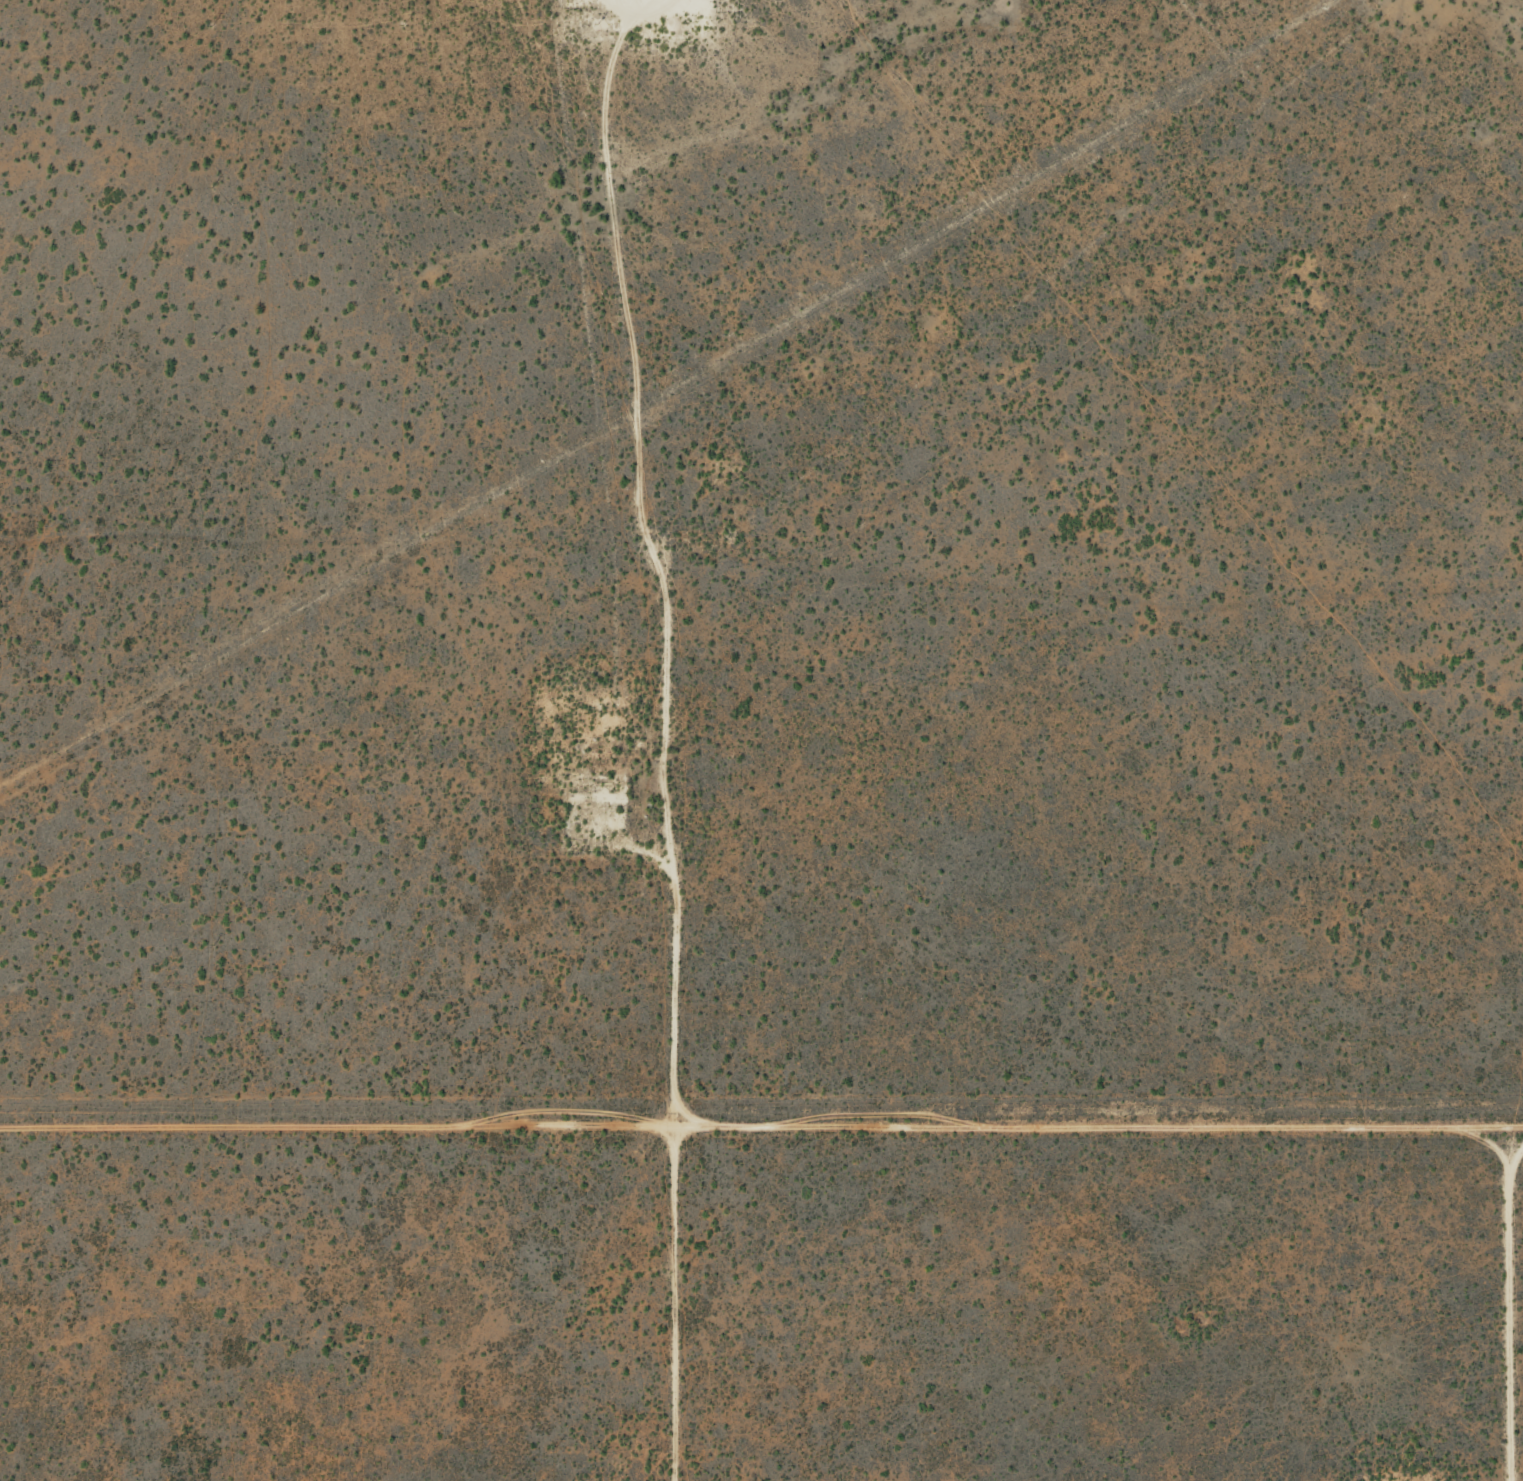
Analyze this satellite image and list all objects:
road: (659, 721)
road: (1098, 1112)
road: (336, 1117)
road: (1521, 1295)

